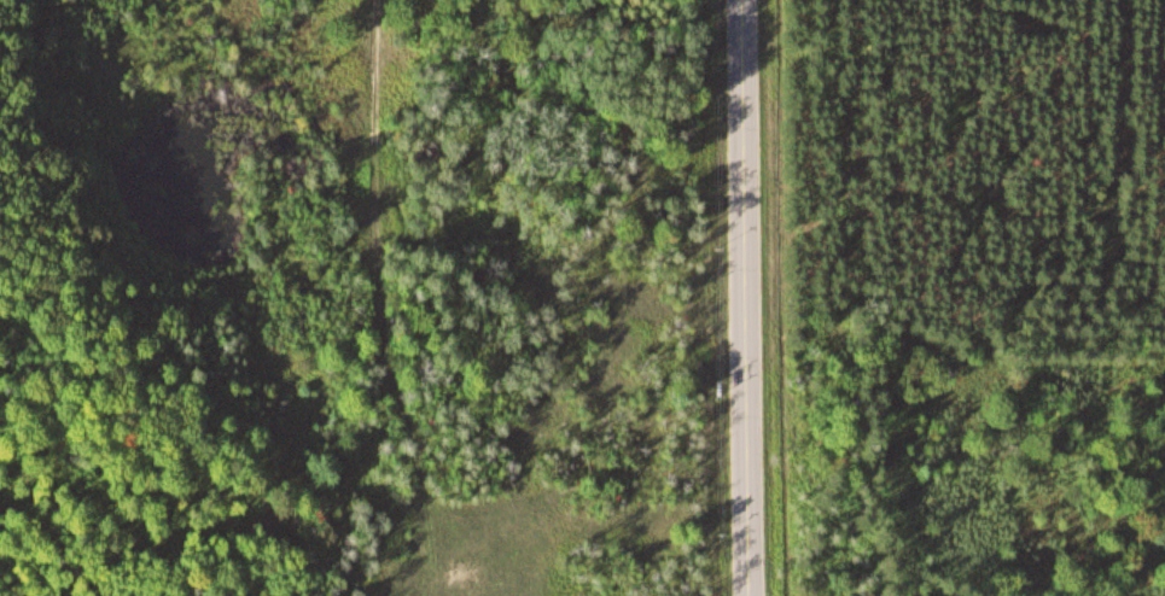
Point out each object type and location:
road: (745, 298)
road: (388, 300)

